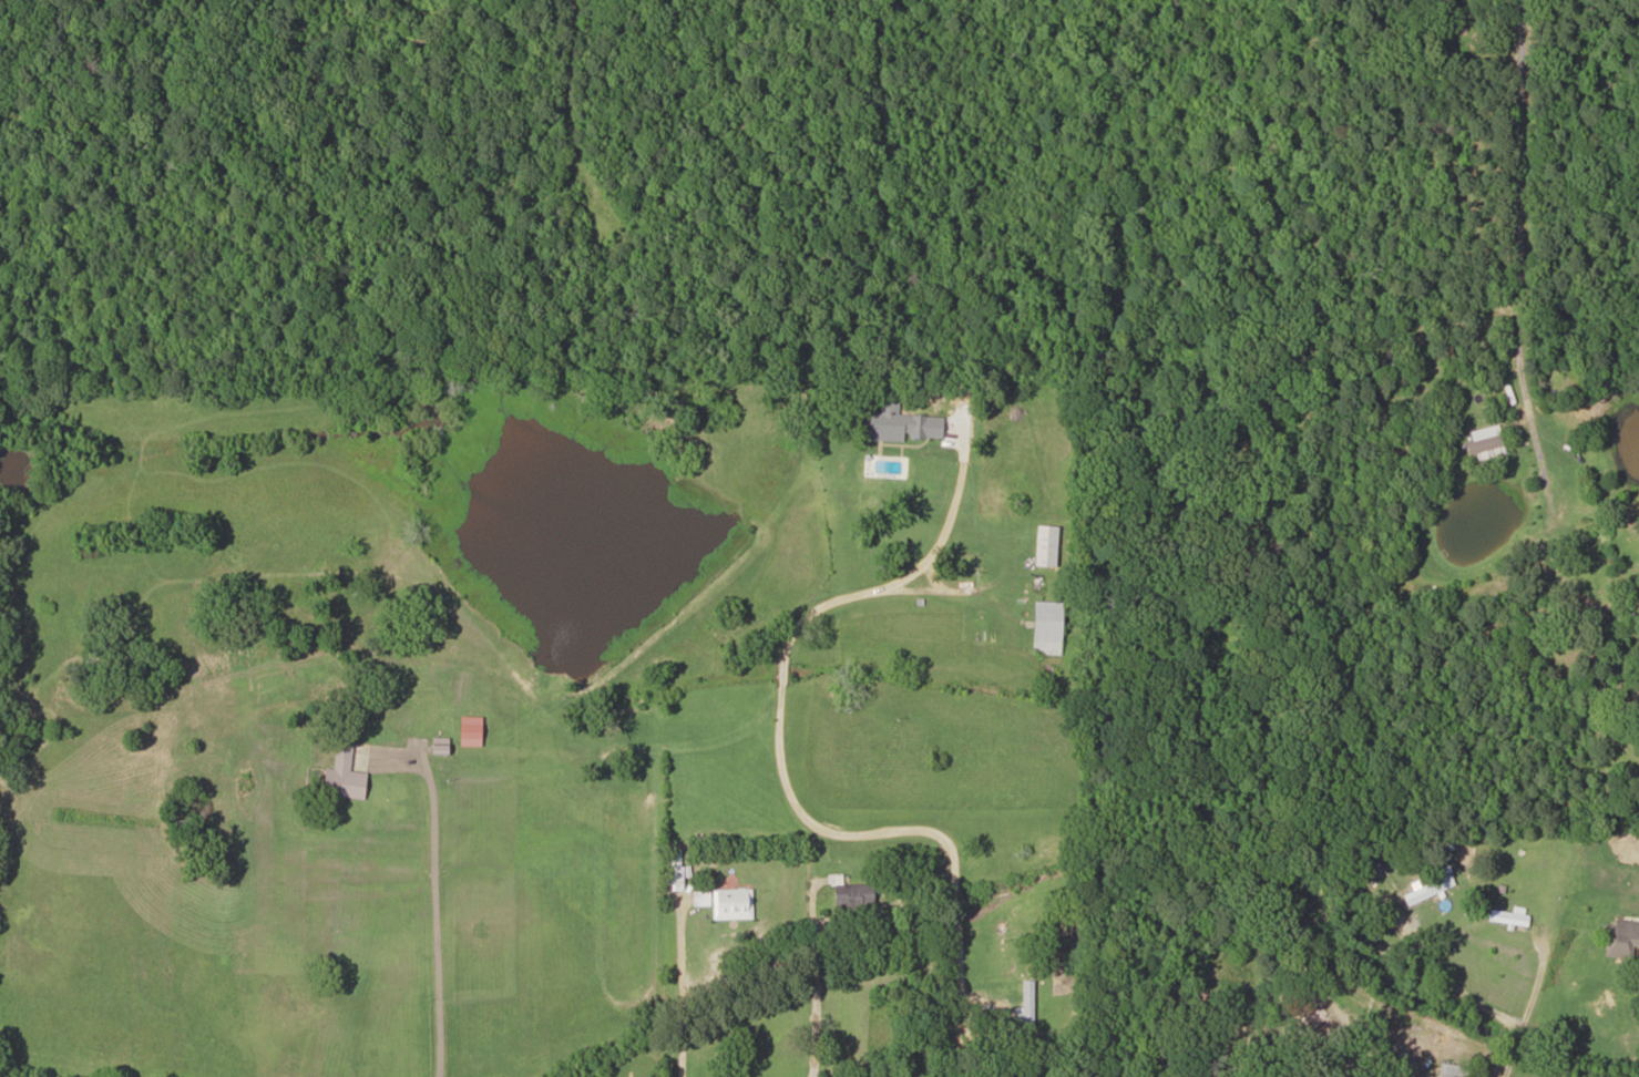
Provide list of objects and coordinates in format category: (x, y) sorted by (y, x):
building: (902, 423)
building: (1483, 444)
building: (1045, 545)
building: (1045, 627)
building: (64, 688)
building: (238, 762)
building: (341, 775)
building: (1425, 889)
building: (852, 894)
building: (731, 903)
building: (1505, 916)
building: (1621, 937)
building: (1024, 1009)
building: (1456, 1070)

